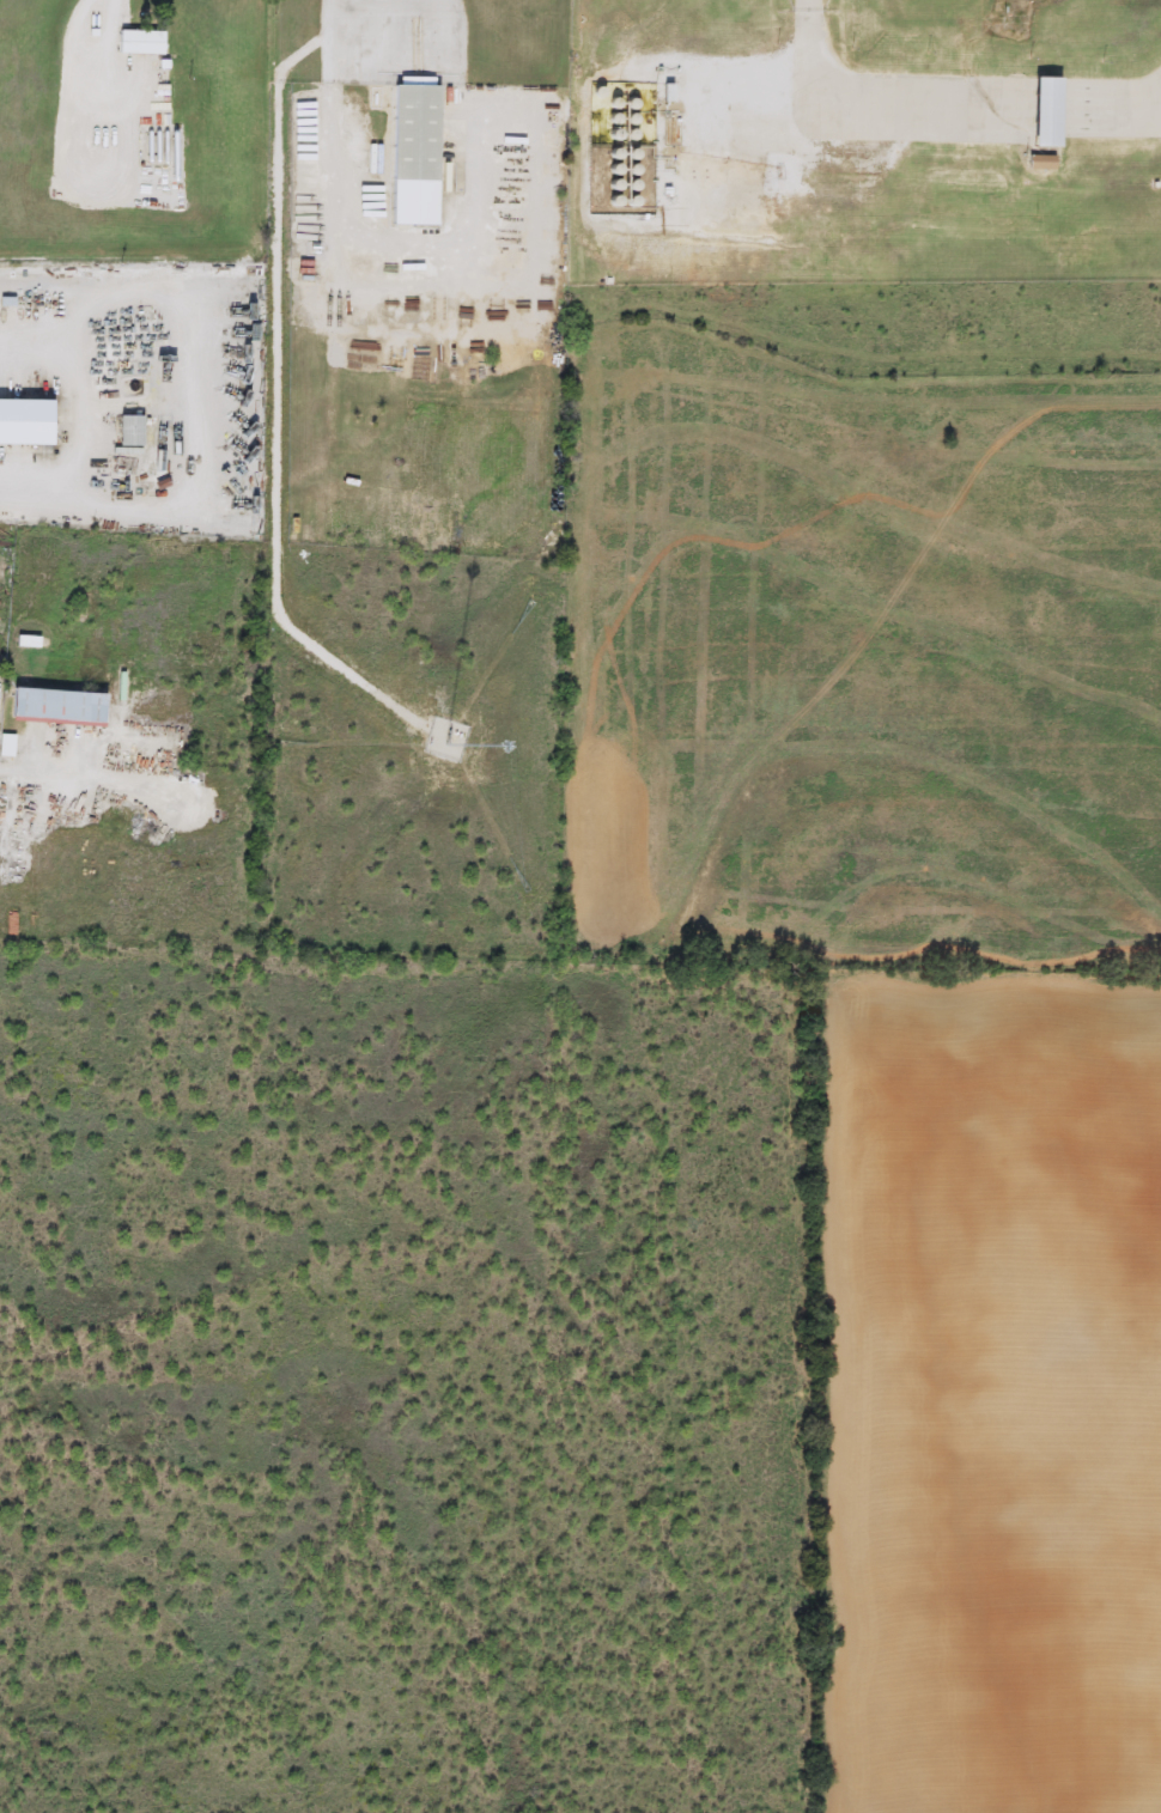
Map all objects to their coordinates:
building: (139, 41)
road: (332, 60)
road: (108, 62)
building: (664, 91)
building: (1043, 111)
building: (412, 153)
building: (1038, 162)
road: (332, 187)
road: (86, 408)
building: (23, 422)
building: (128, 431)
building: (55, 706)
road: (41, 767)

